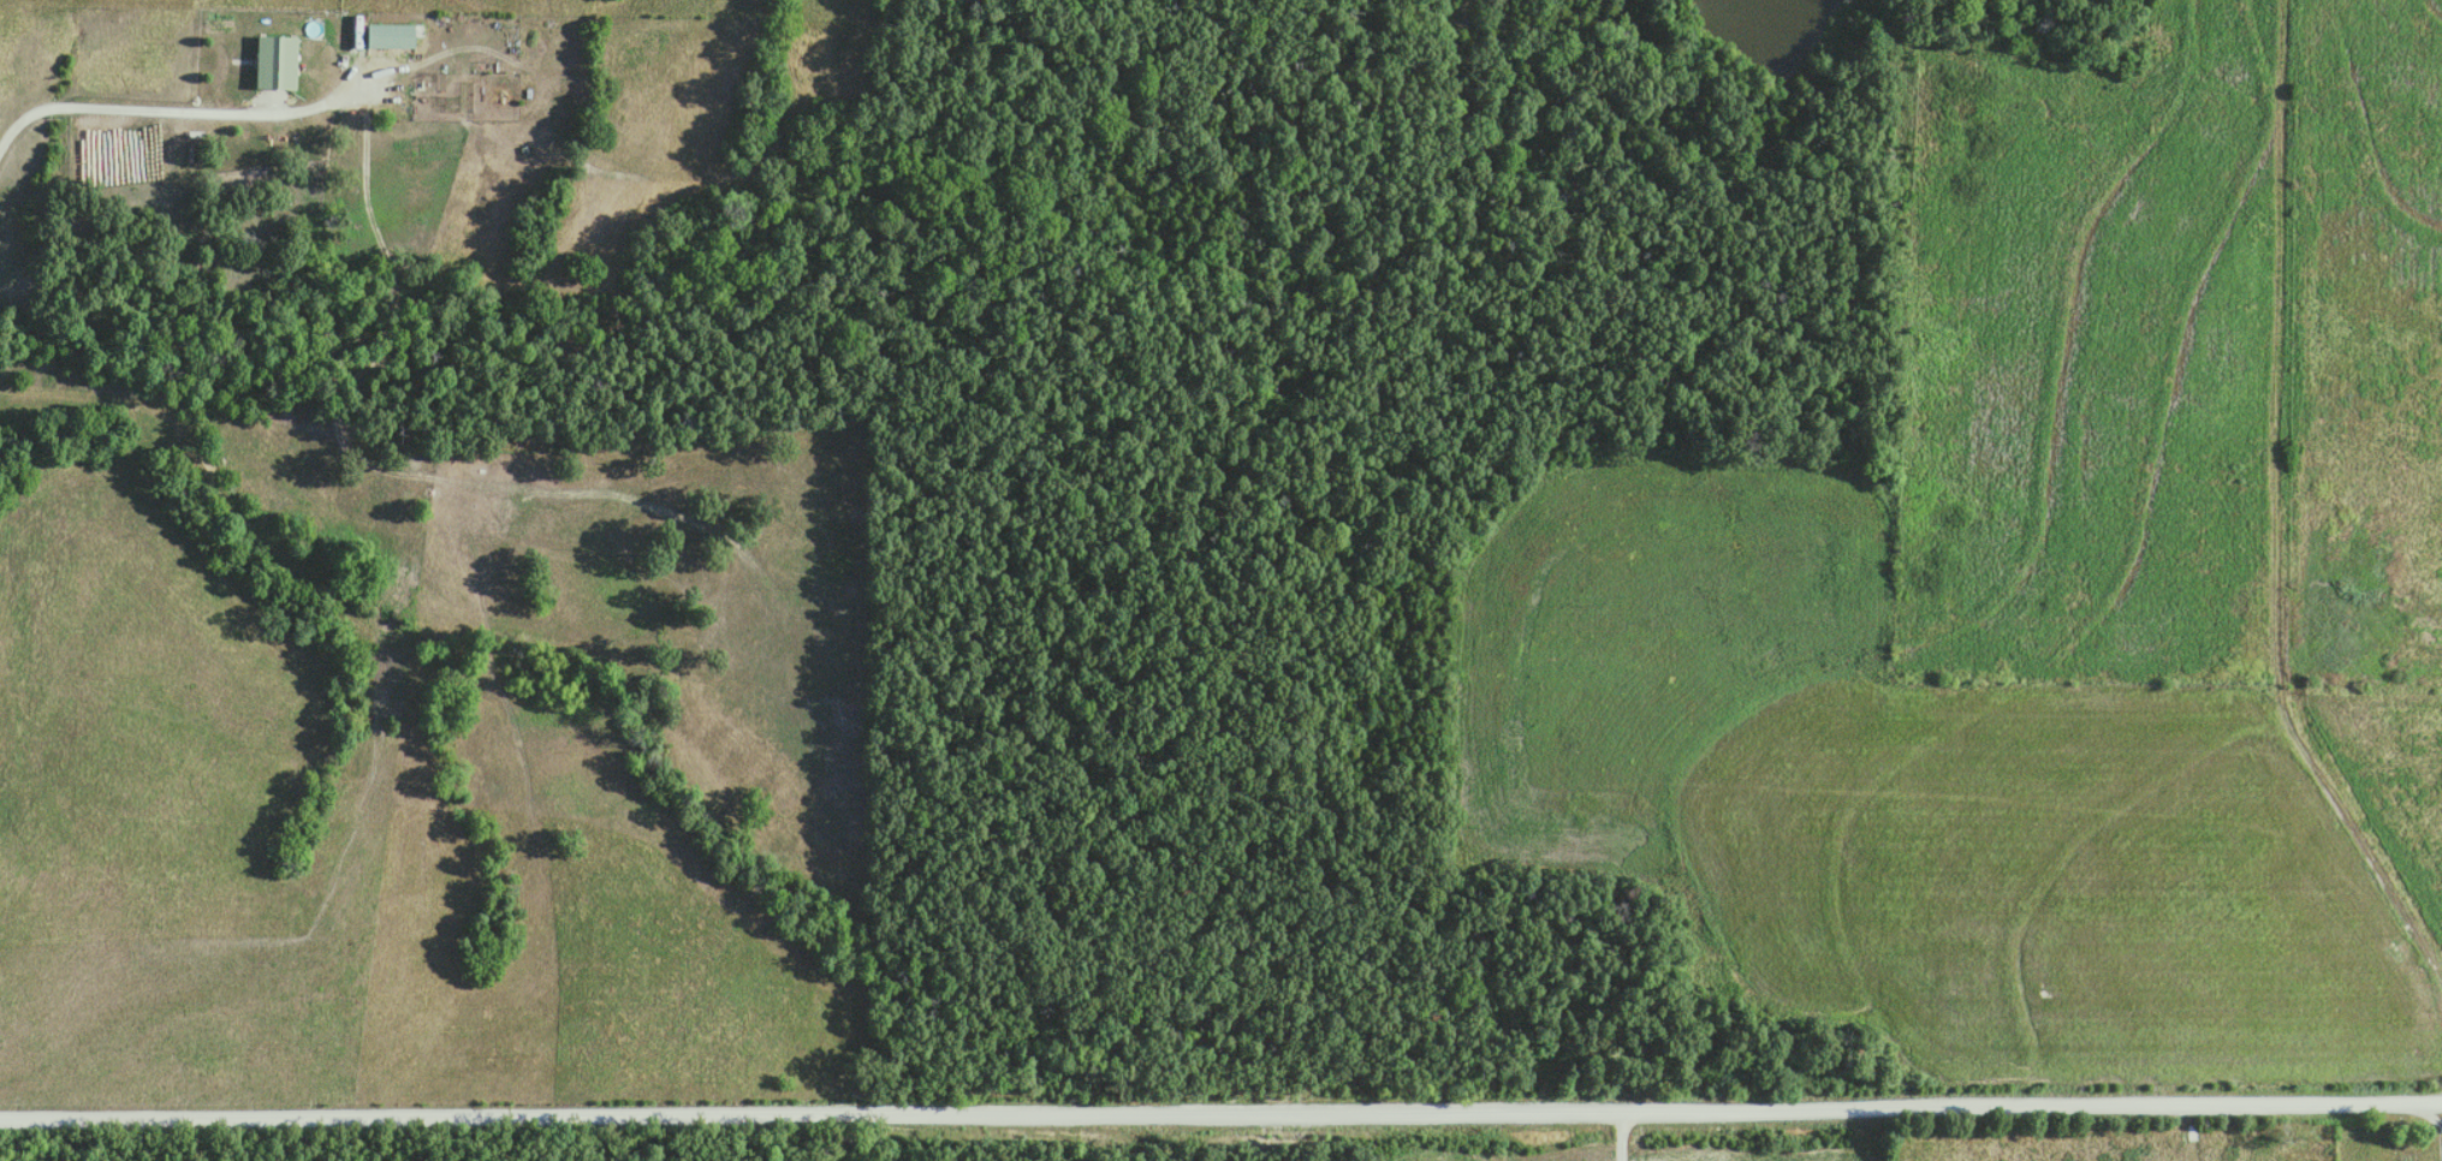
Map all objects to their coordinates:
building: (391, 35)
building: (278, 60)
road: (127, 102)
road: (2334, 799)
road: (2424, 1107)
road: (1220, 1113)

